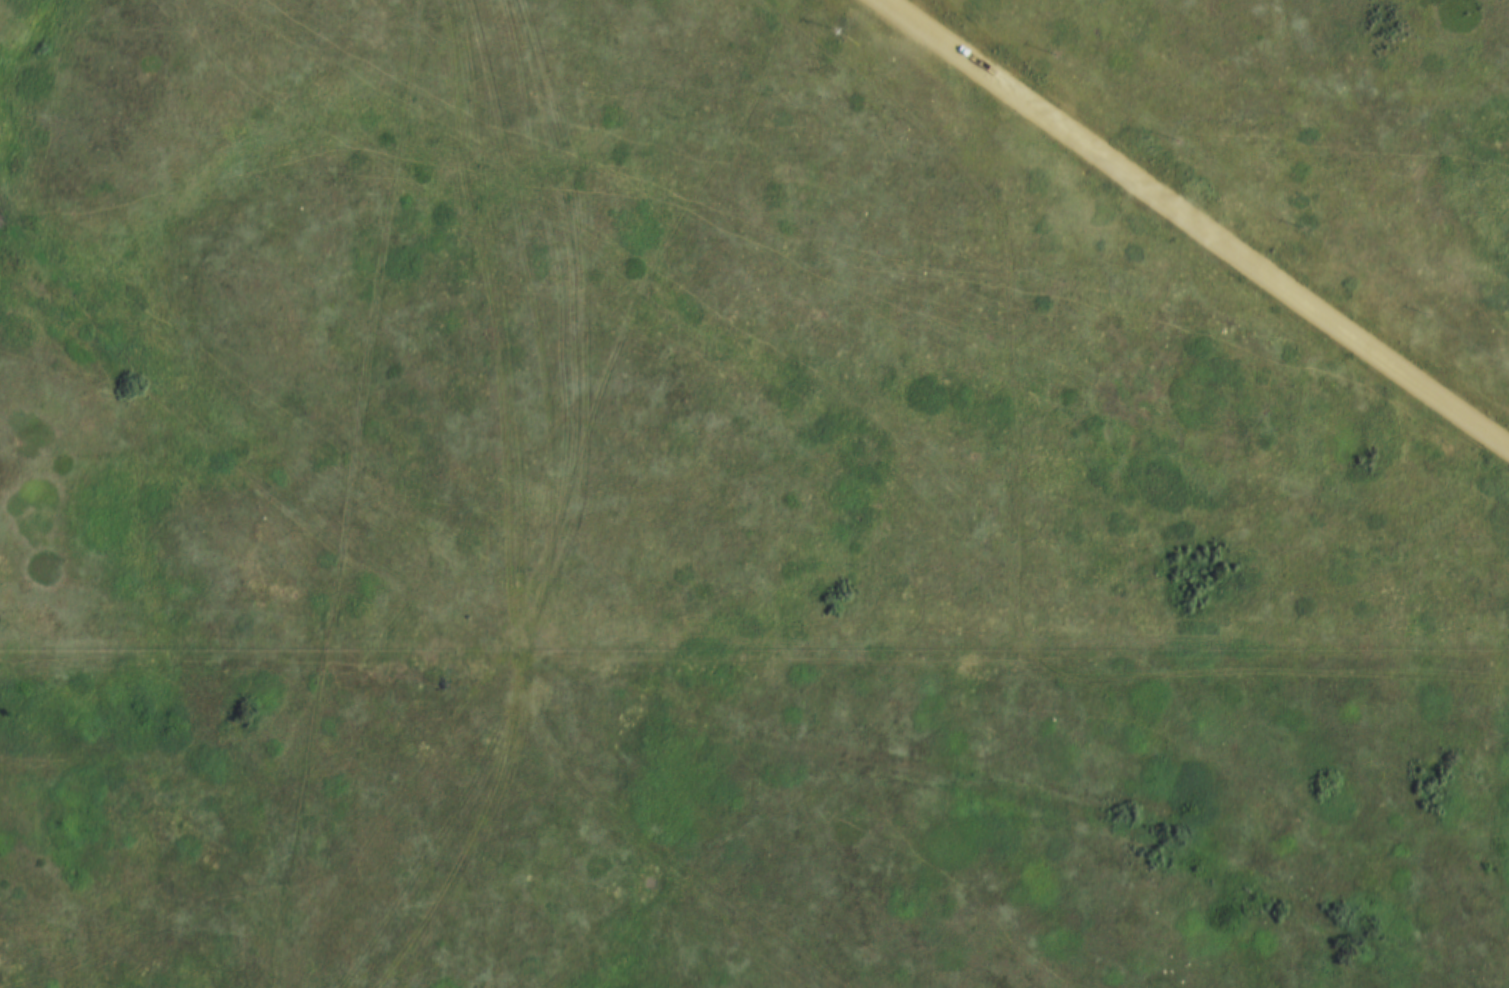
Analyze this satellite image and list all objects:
road: (1198, 223)

